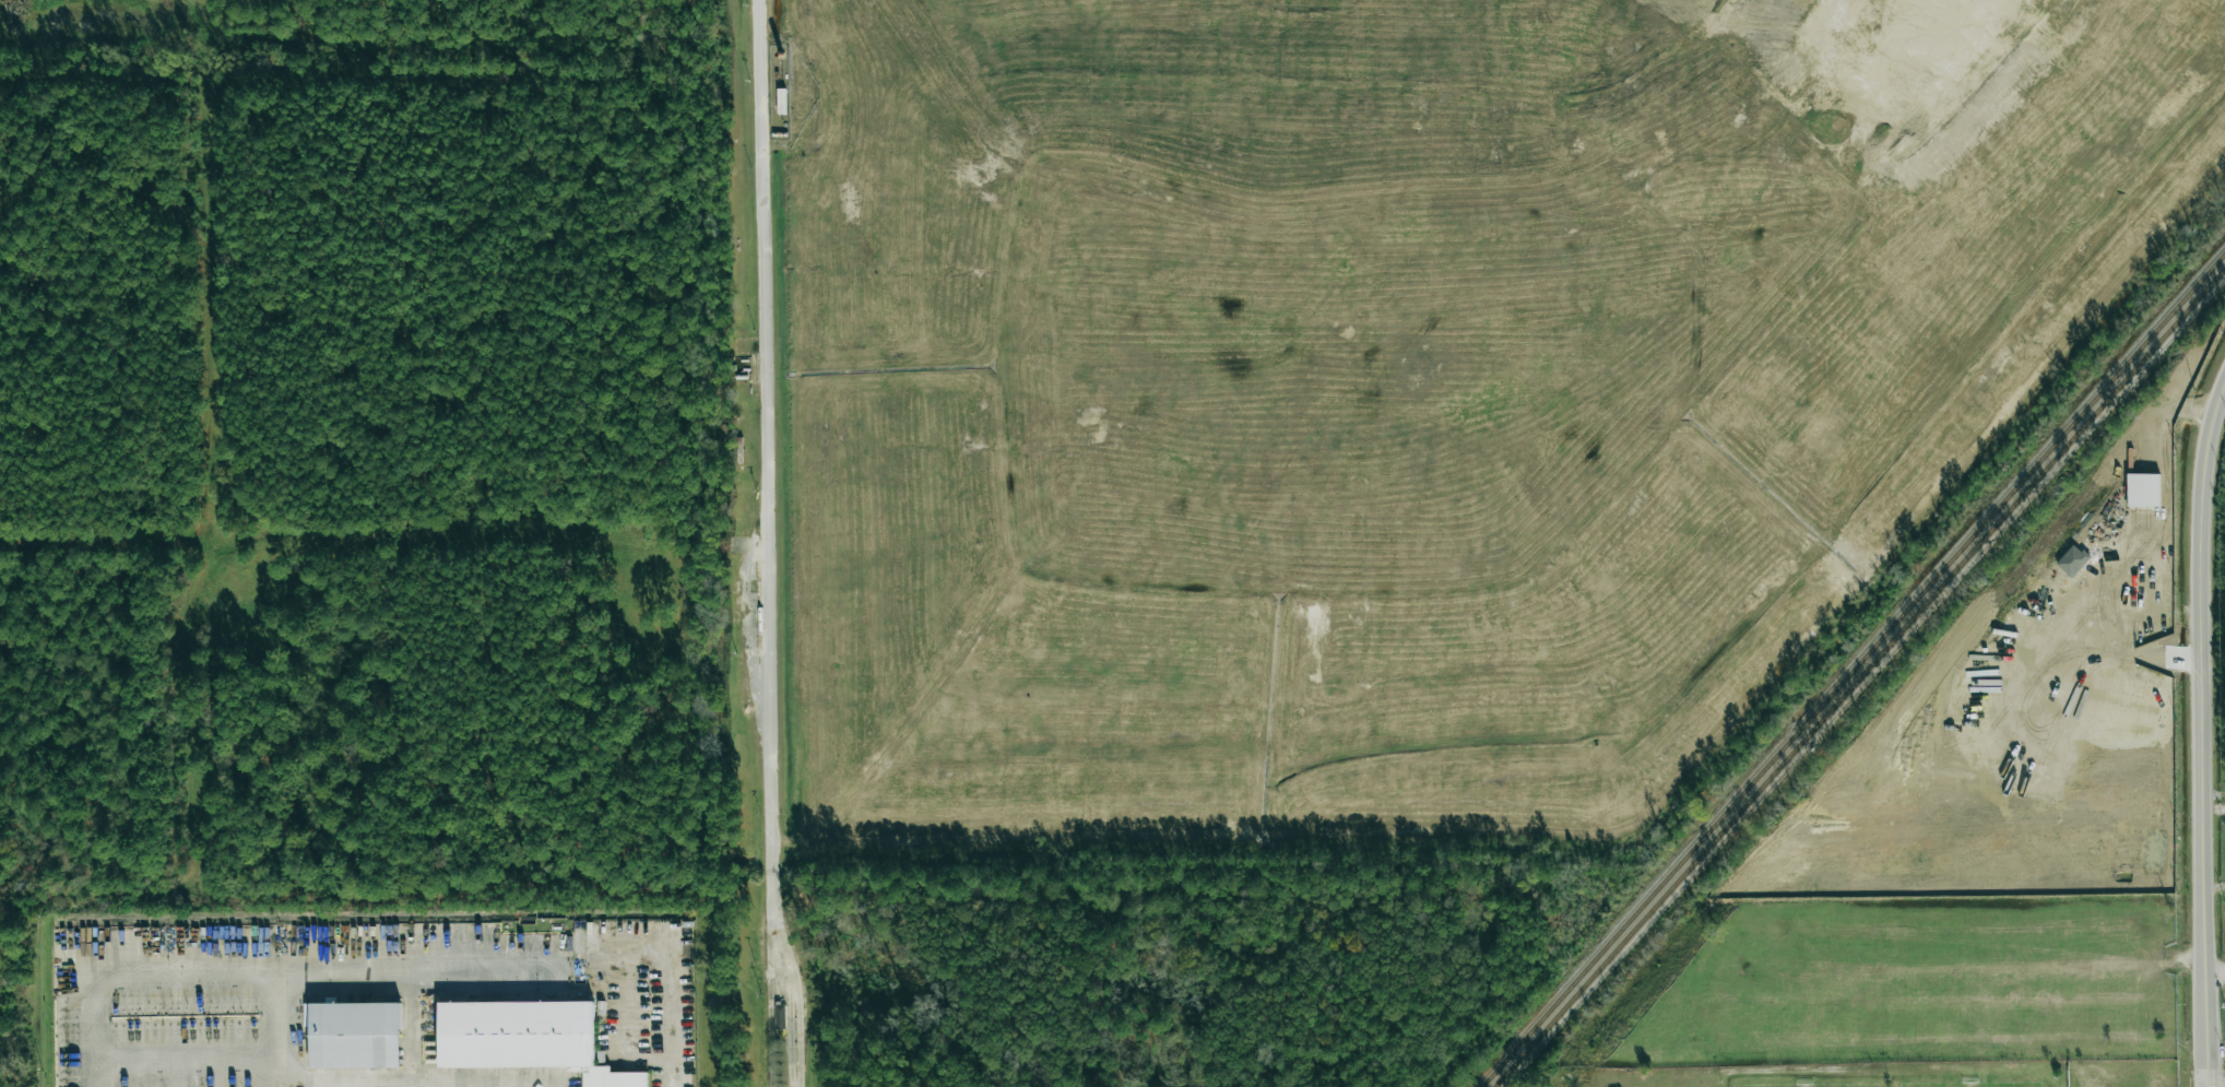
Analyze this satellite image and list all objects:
landfill: (1376, 388)
road: (765, 544)
railway: (1853, 670)
railway: (1859, 676)
road: (2205, 737)
road: (2216, 971)
road: (348, 977)
road: (131, 978)
road: (673, 1021)
road: (413, 1031)
building: (354, 1036)
building: (525, 1039)
park: (1979, 1085)
park: (1826, 1086)

